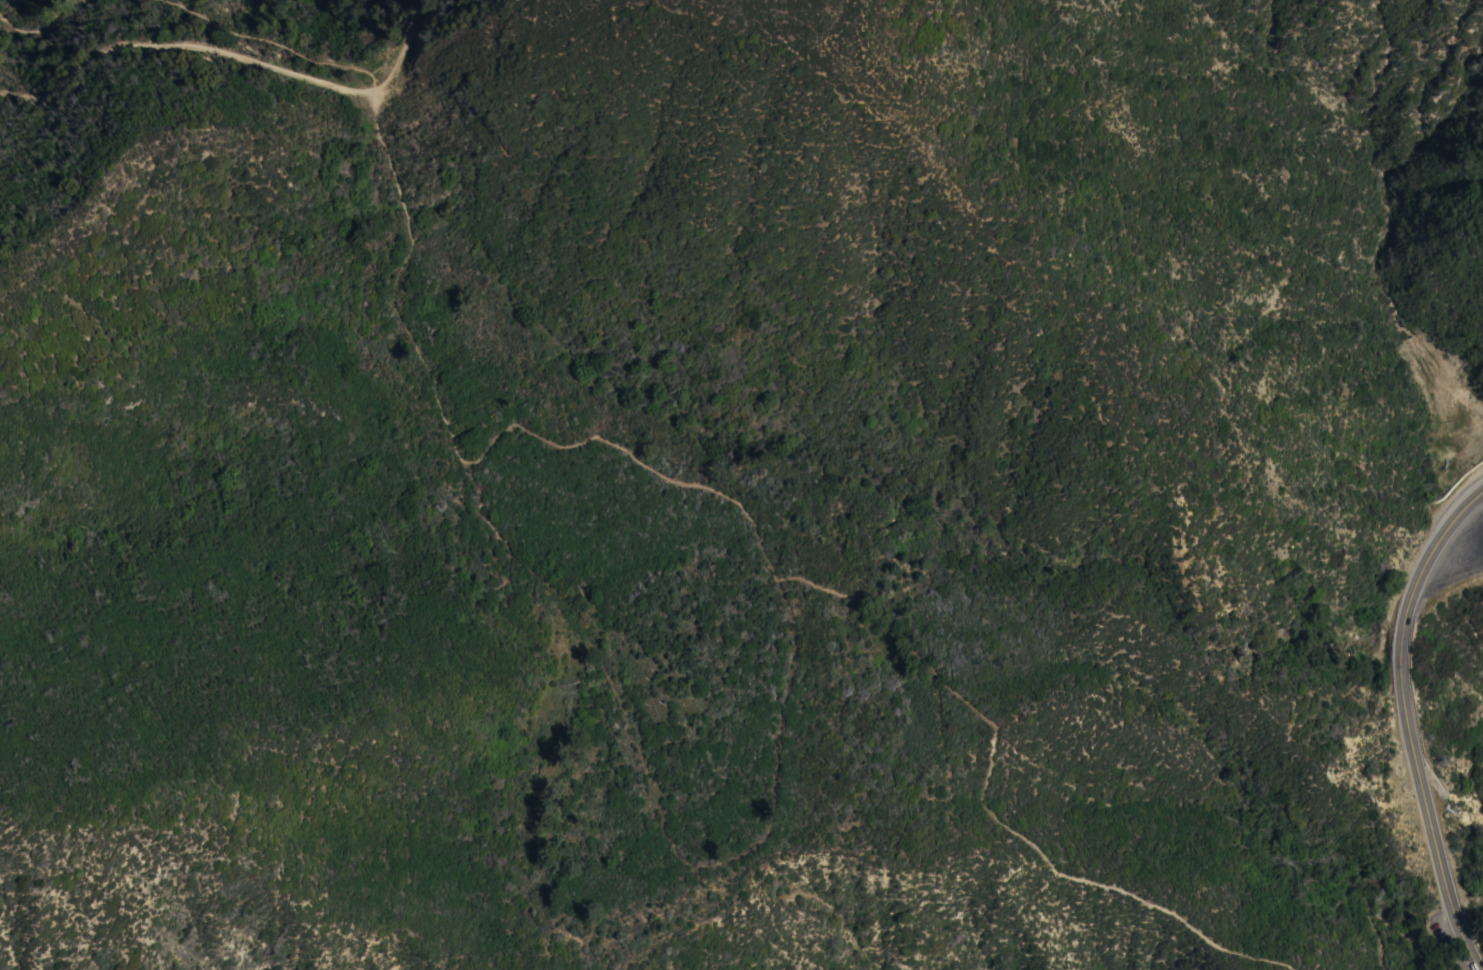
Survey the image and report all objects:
road: (419, 18)
road: (41, 29)
road: (178, 38)
road: (313, 53)
road: (393, 279)
road: (908, 643)
road: (1400, 721)
road: (1382, 906)
parking lot: (1447, 935)
road: (1464, 952)

